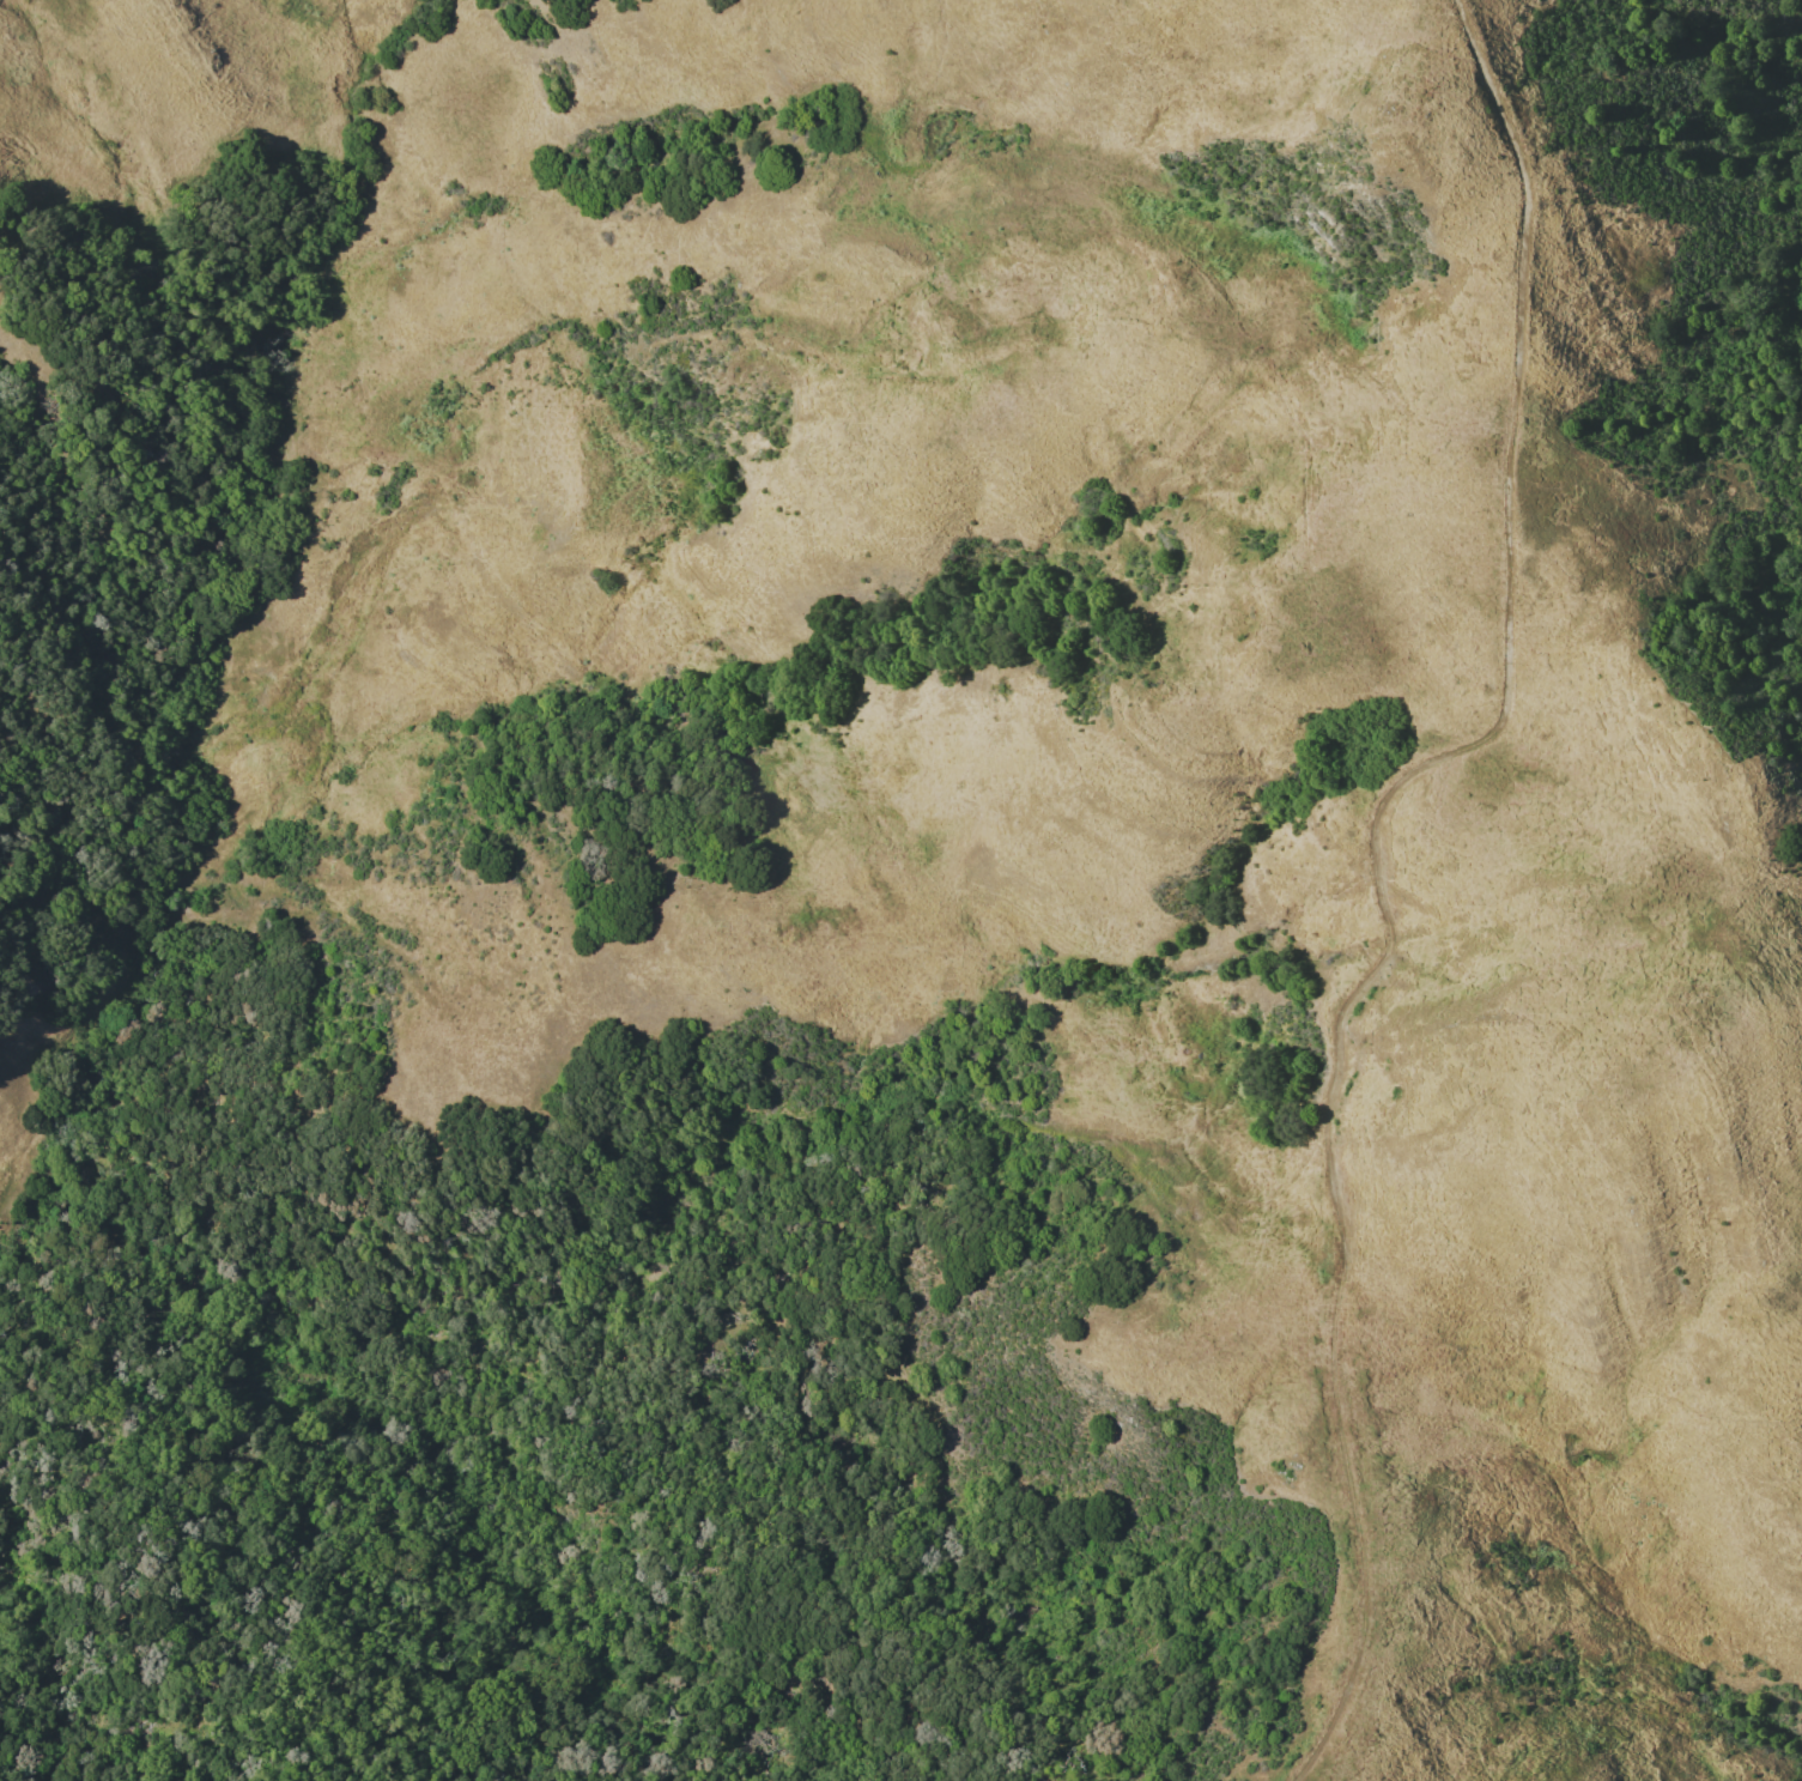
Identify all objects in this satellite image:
road: (1372, 868)

